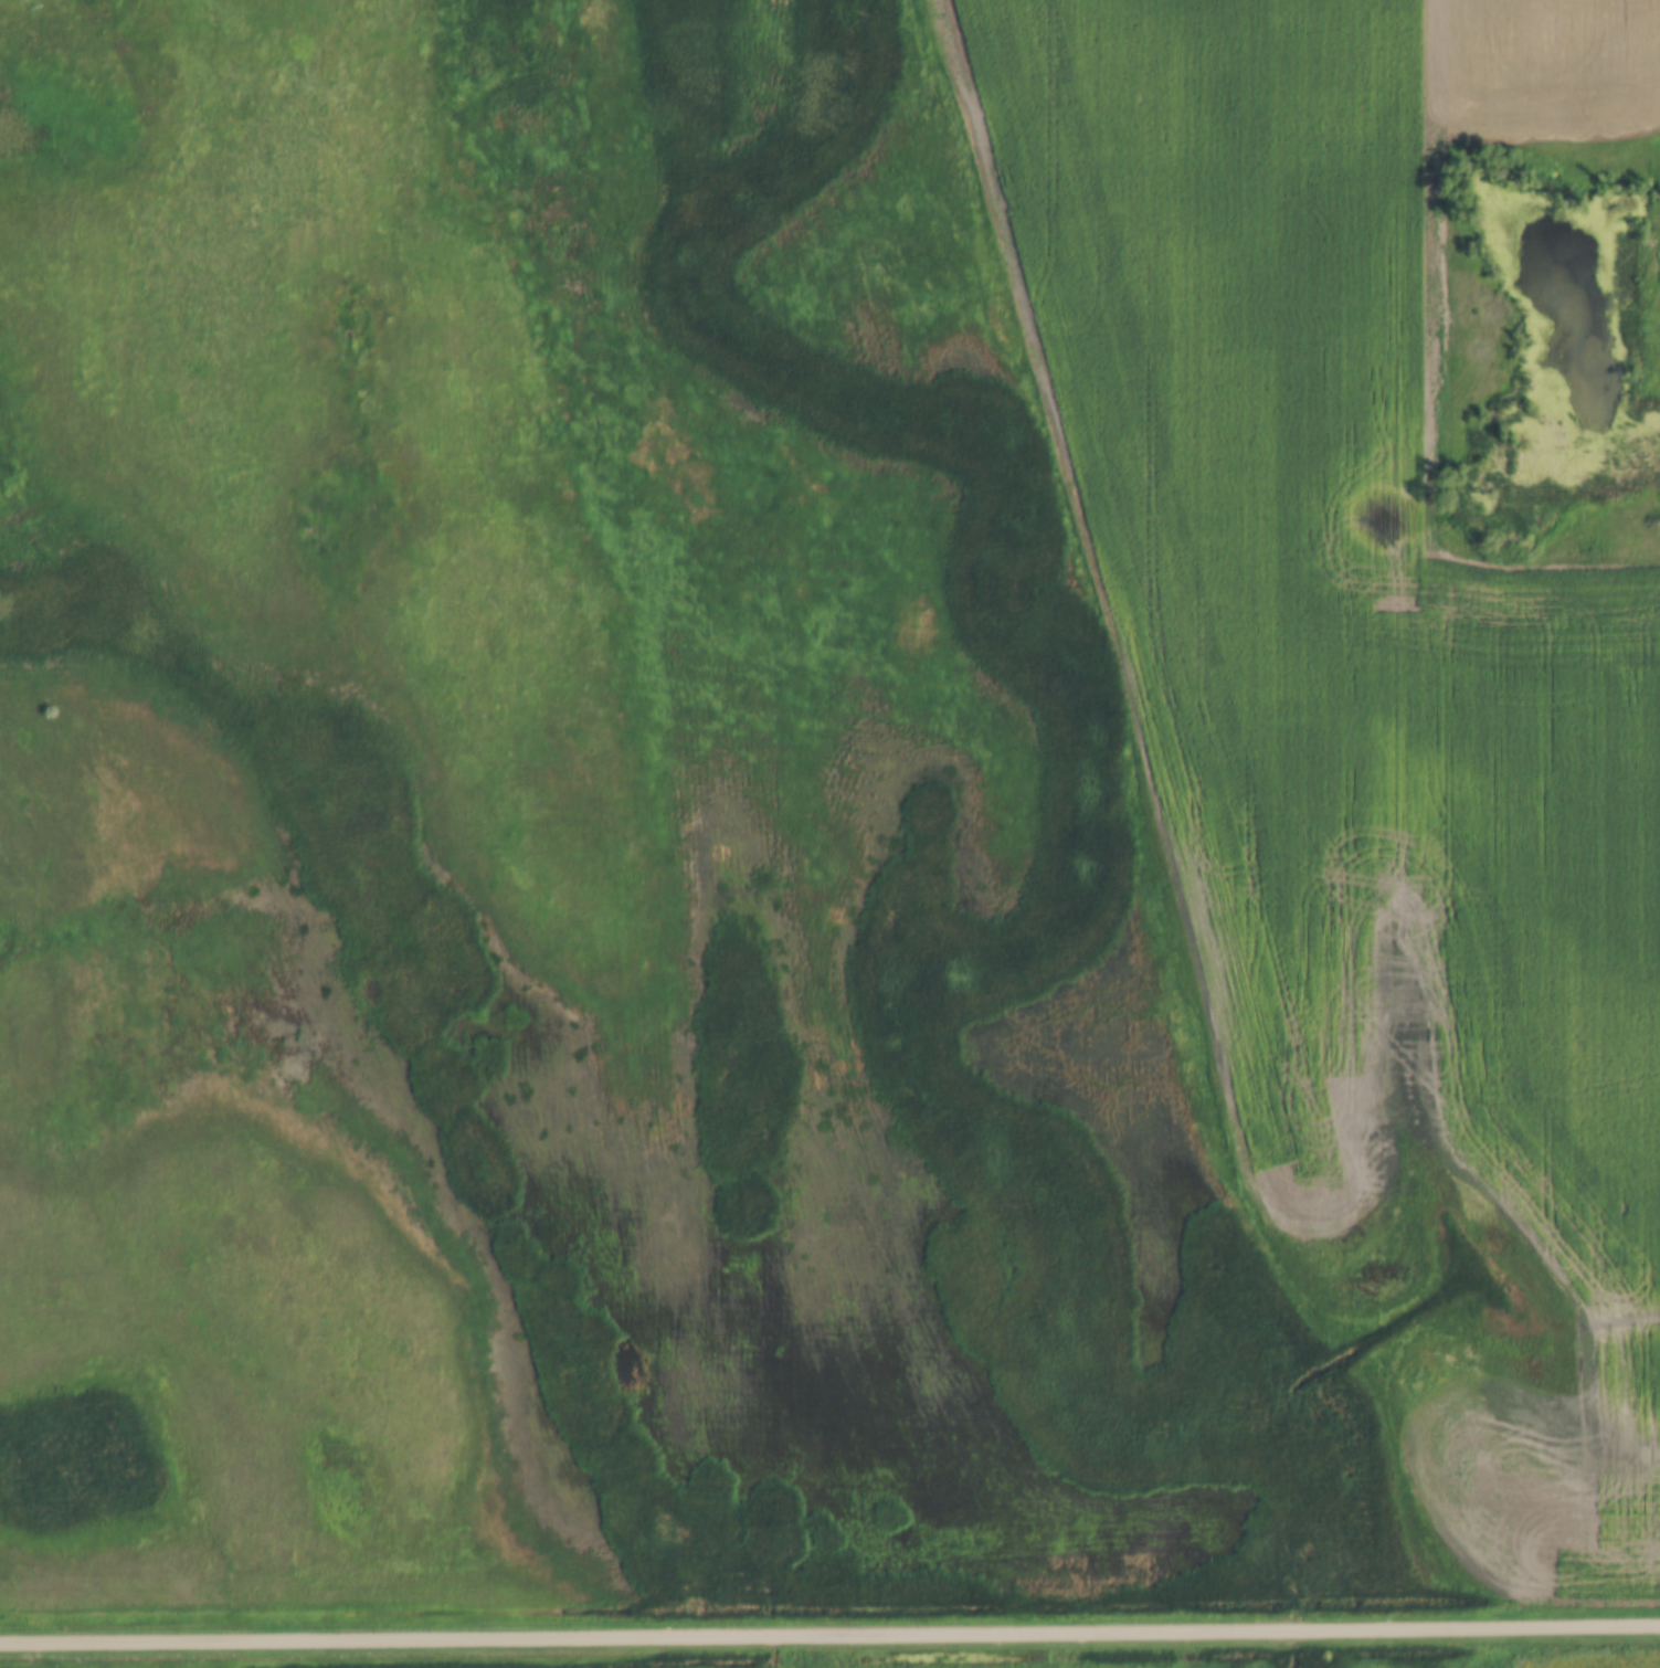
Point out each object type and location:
road: (1645, 539)
road: (829, 1637)

